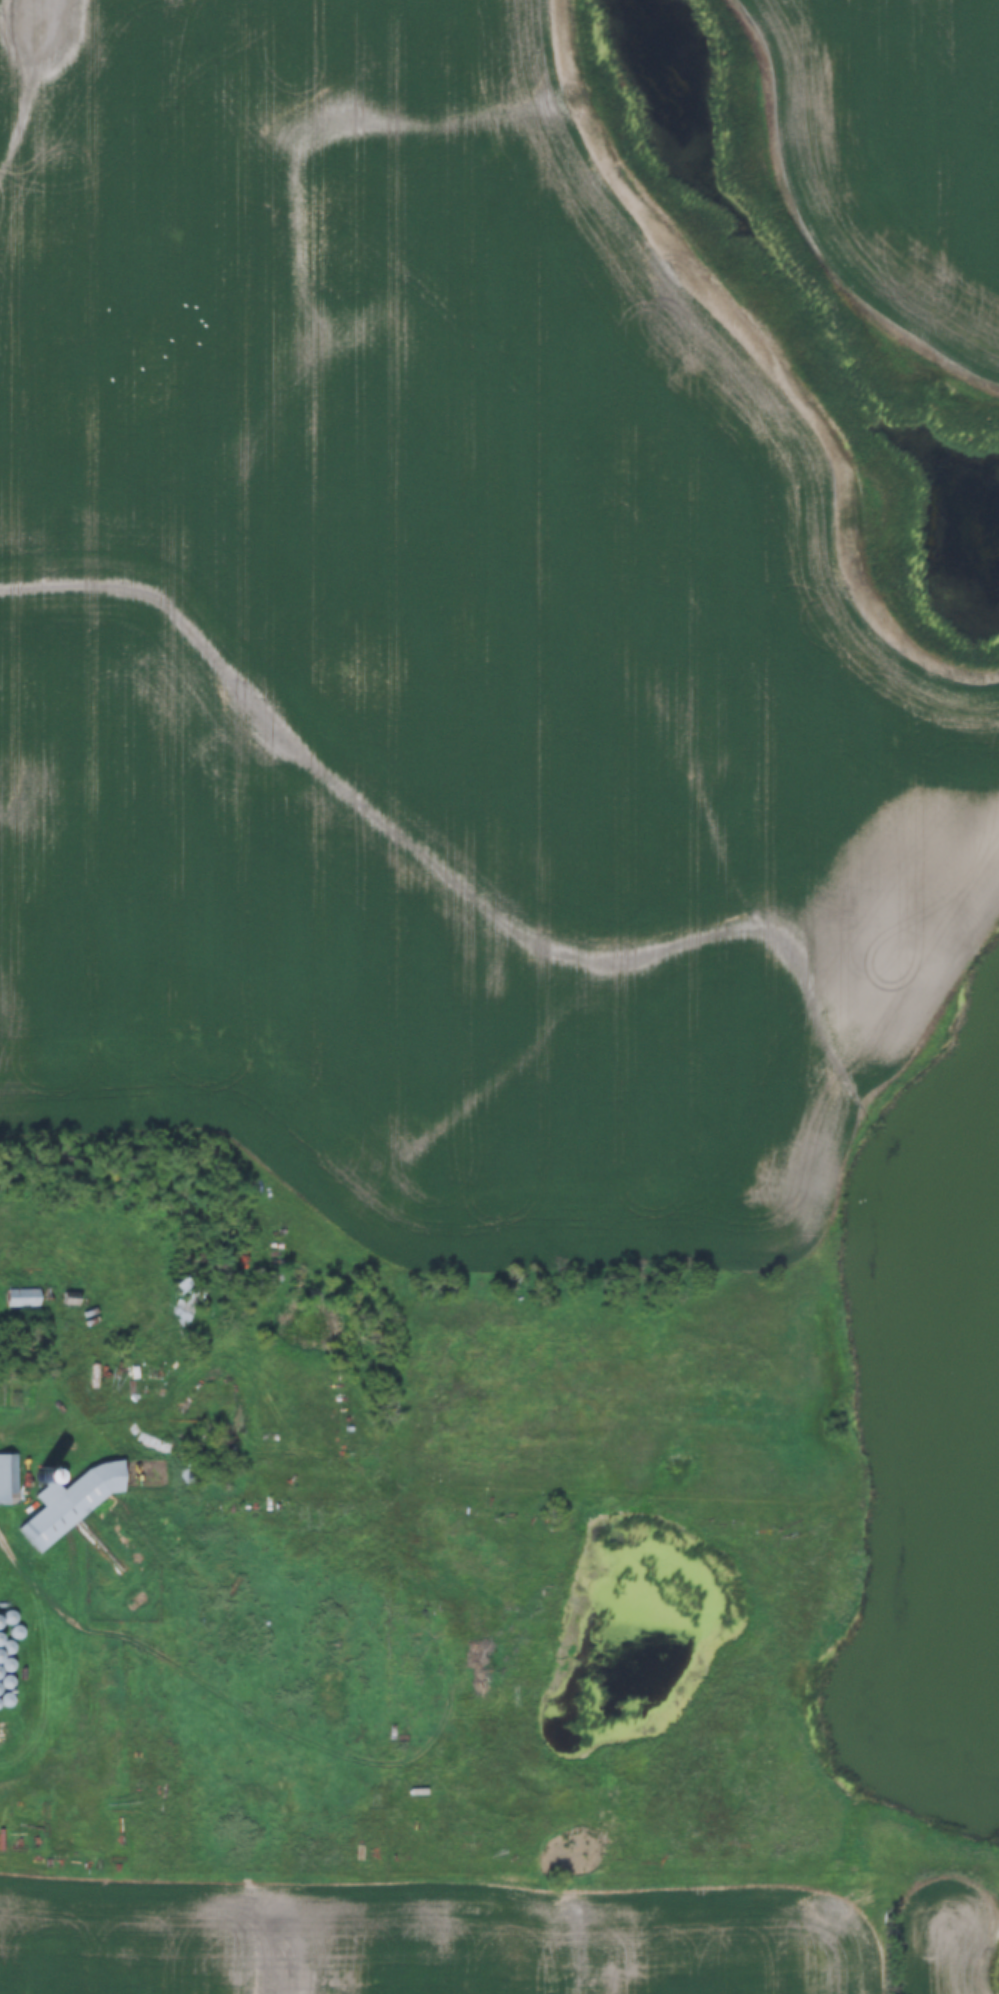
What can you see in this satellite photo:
building: (23, 1299)
building: (8, 1481)
building: (93, 1496)
road: (75, 1631)

